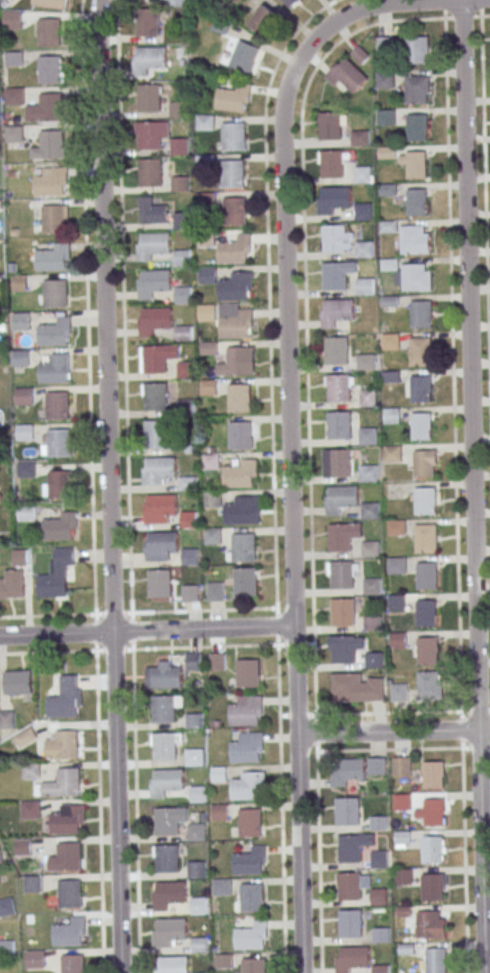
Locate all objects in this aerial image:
building: (290, 2)
building: (50, 3)
building: (177, 3)
road: (383, 3)
building: (263, 19)
building: (147, 22)
building: (49, 32)
building: (416, 49)
building: (244, 55)
building: (13, 59)
building: (148, 59)
building: (50, 69)
building: (346, 74)
building: (383, 79)
building: (415, 89)
building: (14, 96)
building: (149, 98)
building: (233, 98)
building: (46, 107)
building: (177, 109)
building: (386, 117)
building: (205, 122)
building: (330, 125)
building: (416, 127)
building: (13, 133)
building: (151, 134)
building: (233, 136)
building: (359, 137)
building: (48, 145)
building: (178, 146)
building: (204, 162)
building: (332, 164)
building: (415, 164)
building: (149, 172)
building: (232, 173)
building: (362, 174)
building: (51, 181)
building: (179, 183)
building: (332, 199)
building: (206, 201)
building: (416, 202)
building: (151, 210)
building: (235, 211)
building: (363, 211)
building: (53, 218)
building: (182, 220)
building: (387, 227)
building: (206, 237)
road: (303, 238)
building: (334, 238)
building: (415, 239)
road: (484, 240)
building: (153, 245)
building: (235, 249)
building: (363, 249)
building: (53, 257)
building: (182, 258)
building: (337, 274)
building: (207, 275)
building: (416, 277)
building: (154, 283)
building: (364, 285)
building: (236, 286)
building: (55, 293)
building: (183, 295)
road: (124, 305)
building: (336, 311)
building: (206, 313)
building: (421, 314)
building: (155, 320)
building: (236, 320)
building: (21, 321)
road: (87, 324)
building: (55, 332)
building: (184, 333)
building: (395, 341)
building: (209, 348)
building: (336, 350)
building: (420, 351)
building: (21, 358)
building: (154, 359)
building: (235, 362)
building: (365, 362)
road: (451, 364)
building: (55, 369)
building: (186, 370)
road: (270, 380)
building: (209, 387)
building: (338, 387)
building: (421, 389)
building: (24, 395)
building: (156, 396)
building: (367, 396)
building: (239, 397)
building: (57, 405)
building: (185, 407)
building: (393, 416)
building: (339, 425)
building: (422, 426)
building: (25, 432)
building: (155, 433)
building: (240, 434)
building: (58, 442)
building: (393, 453)
building: (211, 461)
building: (336, 462)
building: (424, 464)
building: (26, 469)
building: (158, 469)
building: (240, 474)
building: (187, 483)
building: (59, 484)
road: (110, 486)
road: (471, 486)
road: (289, 492)
building: (212, 499)
building: (340, 499)
building: (426, 501)
building: (160, 508)
building: (241, 510)
building: (369, 510)
building: (26, 513)
building: (188, 519)
building: (61, 526)
building: (397, 527)
building: (213, 535)
building: (340, 537)
building: (426, 538)
building: (161, 545)
building: (243, 547)
building: (369, 549)
building: (189, 556)
building: (19, 557)
building: (397, 565)
building: (55, 574)
building: (342, 574)
building: (426, 576)
building: (245, 581)
building: (159, 583)
building: (12, 584)
building: (372, 585)
building: (215, 591)
building: (189, 593)
building: (397, 602)
road: (204, 609)
building: (343, 612)
building: (427, 613)
road: (66, 614)
building: (373, 623)
road: (146, 630)
building: (398, 640)
building: (343, 649)
road: (84, 650)
building: (427, 650)
building: (372, 660)
building: (217, 661)
building: (193, 662)
building: (247, 672)
building: (163, 676)
building: (18, 682)
building: (428, 684)
building: (357, 687)
building: (399, 692)
building: (66, 699)
building: (163, 709)
building: (245, 711)
road: (387, 713)
building: (6, 719)
building: (194, 720)
road: (460, 729)
road: (392, 731)
building: (23, 737)
building: (68, 744)
building: (164, 746)
building: (247, 747)
road: (388, 749)
building: (194, 757)
building: (376, 765)
building: (401, 765)
building: (30, 771)
building: (346, 771)
building: (219, 774)
building: (433, 774)
building: (165, 782)
building: (70, 783)
building: (247, 786)
road: (316, 788)
building: (198, 794)
building: (402, 802)
road: (280, 808)
building: (30, 809)
road: (99, 811)
road: (135, 811)
building: (347, 811)
building: (434, 811)
building: (219, 812)
building: (68, 819)
building: (166, 821)
building: (250, 822)
building: (378, 823)
building: (196, 832)
building: (403, 838)
building: (22, 847)
building: (350, 848)
building: (432, 849)
building: (70, 857)
building: (167, 858)
building: (379, 859)
building: (1, 860)
building: (250, 860)
road: (463, 860)
building: (197, 869)
building: (404, 876)
building: (32, 883)
building: (349, 885)
building: (221, 887)
building: (432, 887)
building: (168, 894)
building: (71, 895)
building: (379, 896)
building: (251, 897)
building: (199, 906)
building: (7, 907)
building: (403, 912)
building: (350, 923)
building: (431, 925)
building: (70, 931)
building: (170, 931)
building: (381, 934)
building: (251, 936)
building: (199, 945)
building: (7, 947)
building: (406, 948)
building: (351, 958)
building: (35, 959)
building: (436, 960)
building: (224, 961)
building: (73, 964)
building: (174, 965)
building: (254, 965)
building: (382, 968)

